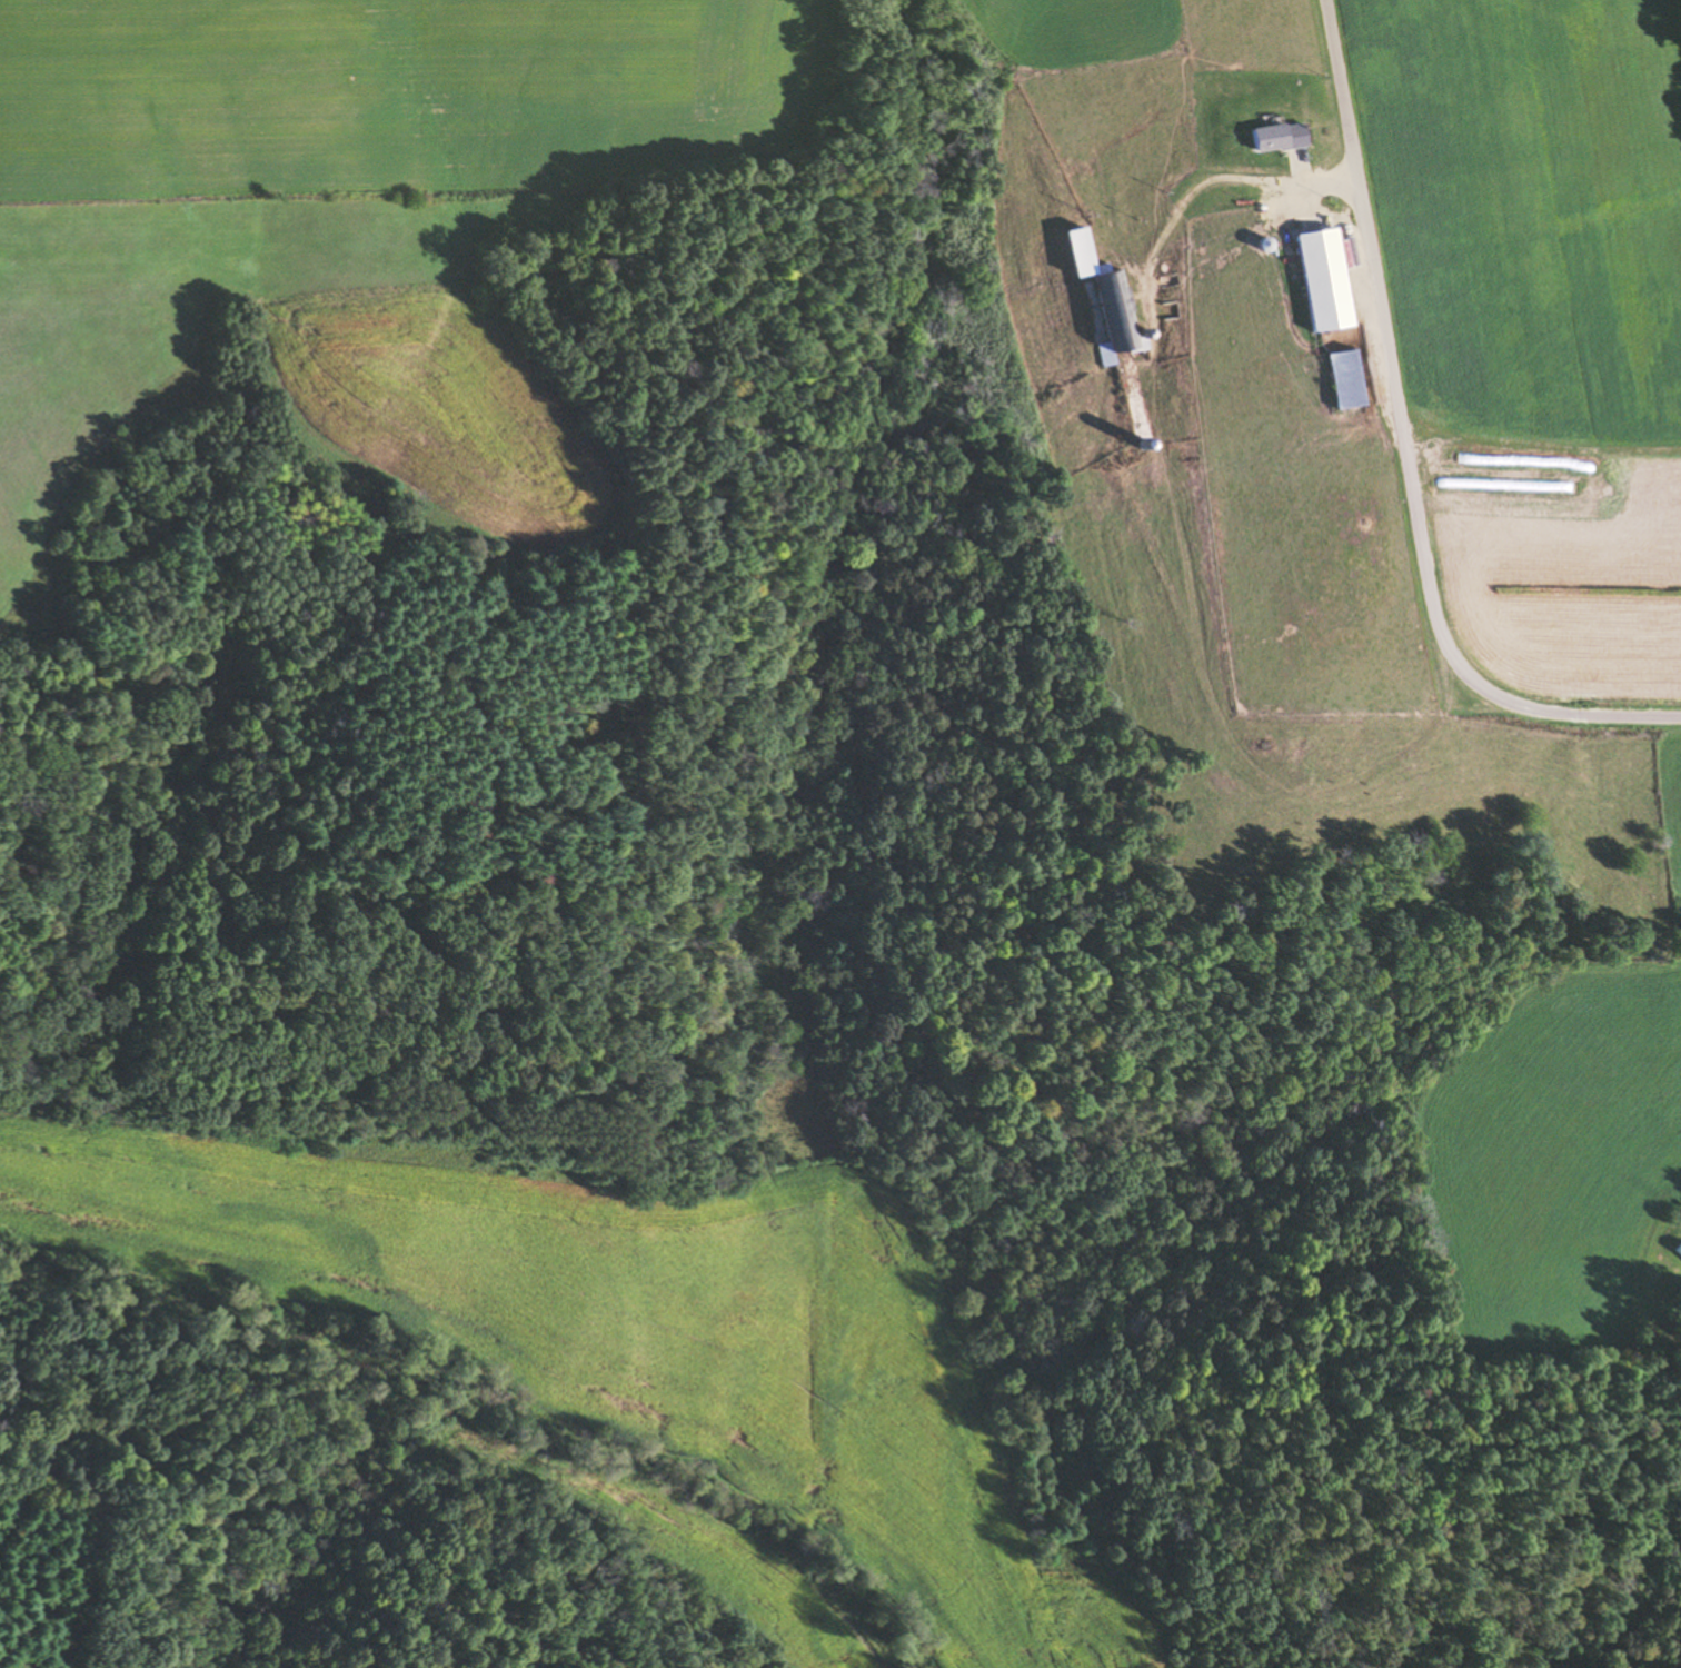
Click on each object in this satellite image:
crop: (1163, 33)
crop: (390, 91)
building: (1275, 137)
building: (1077, 252)
building: (1320, 280)
building: (1114, 316)
building: (1341, 380)
crop: (430, 407)
road: (1402, 449)
road: (1195, 533)
building: (1679, 1250)
crop: (613, 1328)
crop: (703, 1551)

